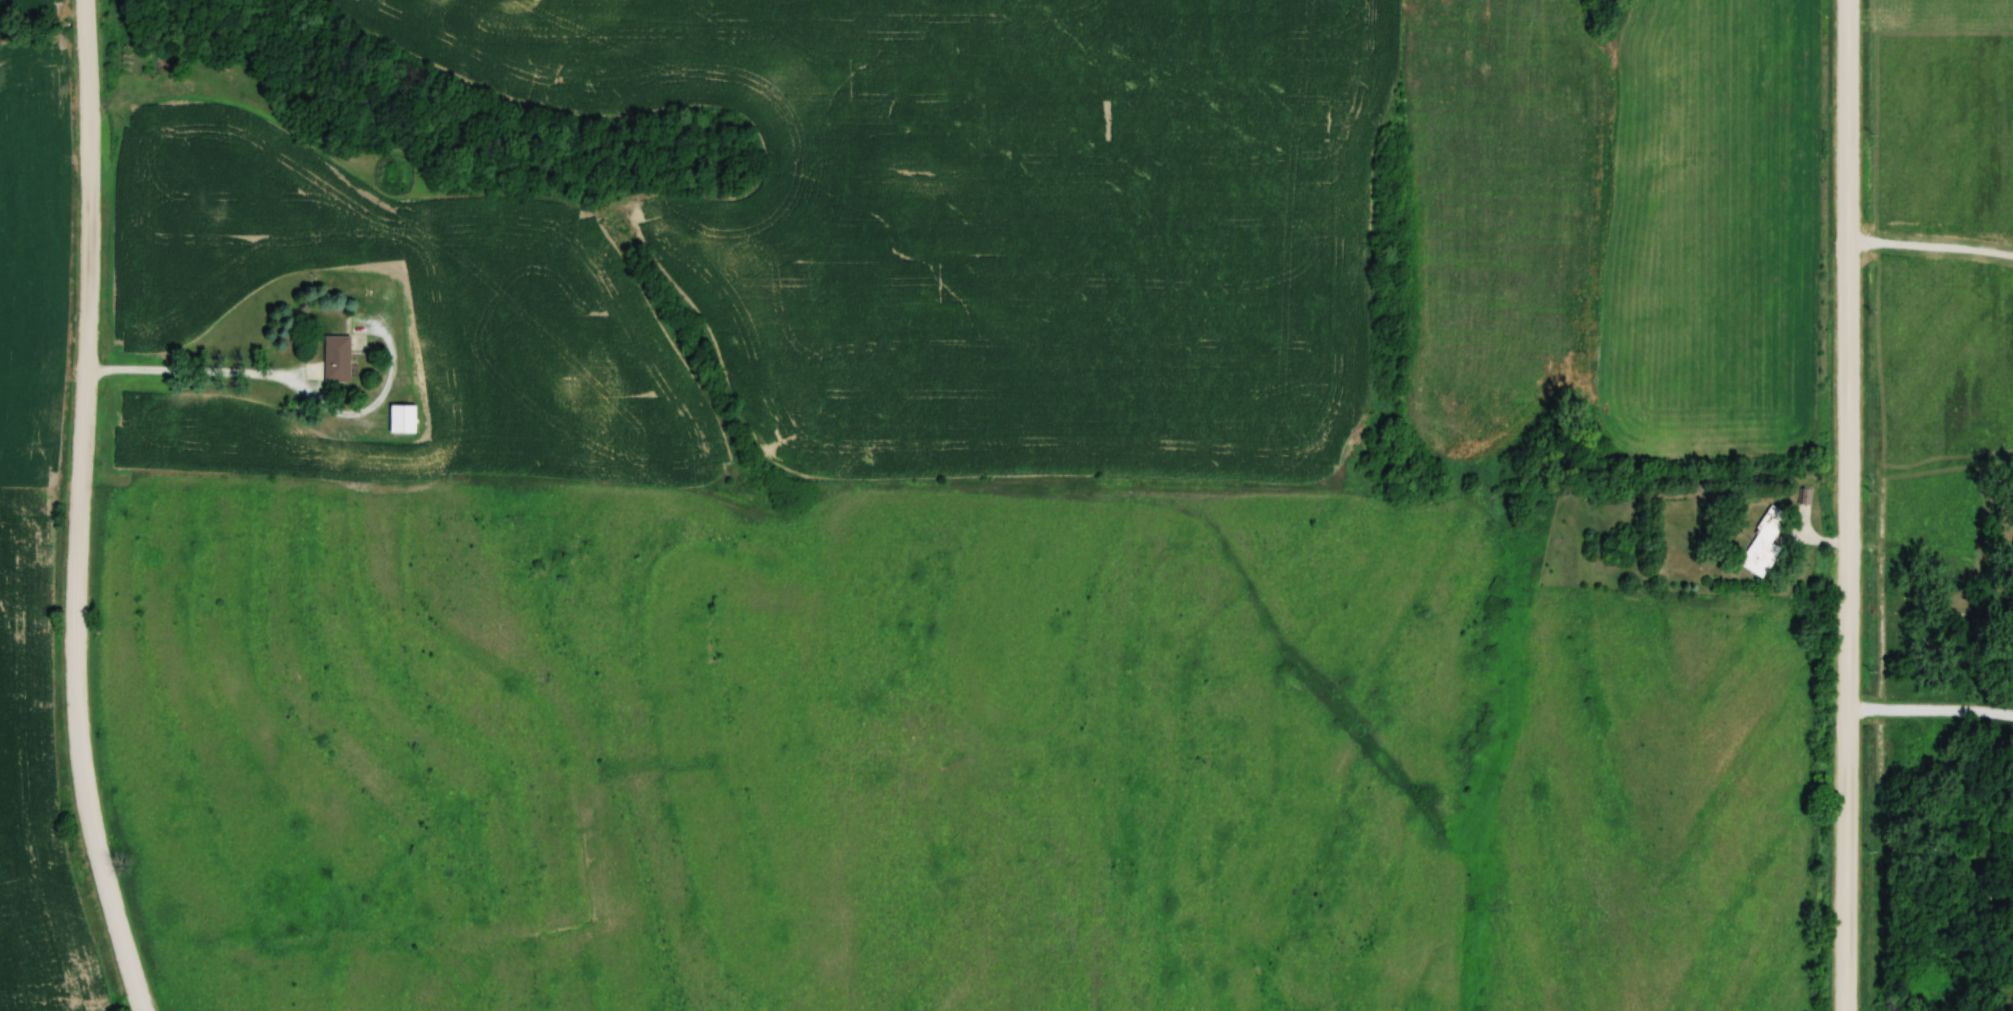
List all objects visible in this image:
road: (1931, 247)
building: (338, 359)
road: (285, 380)
building: (404, 419)
road: (1848, 505)
road: (82, 509)
building: (1762, 544)
road: (1930, 712)

